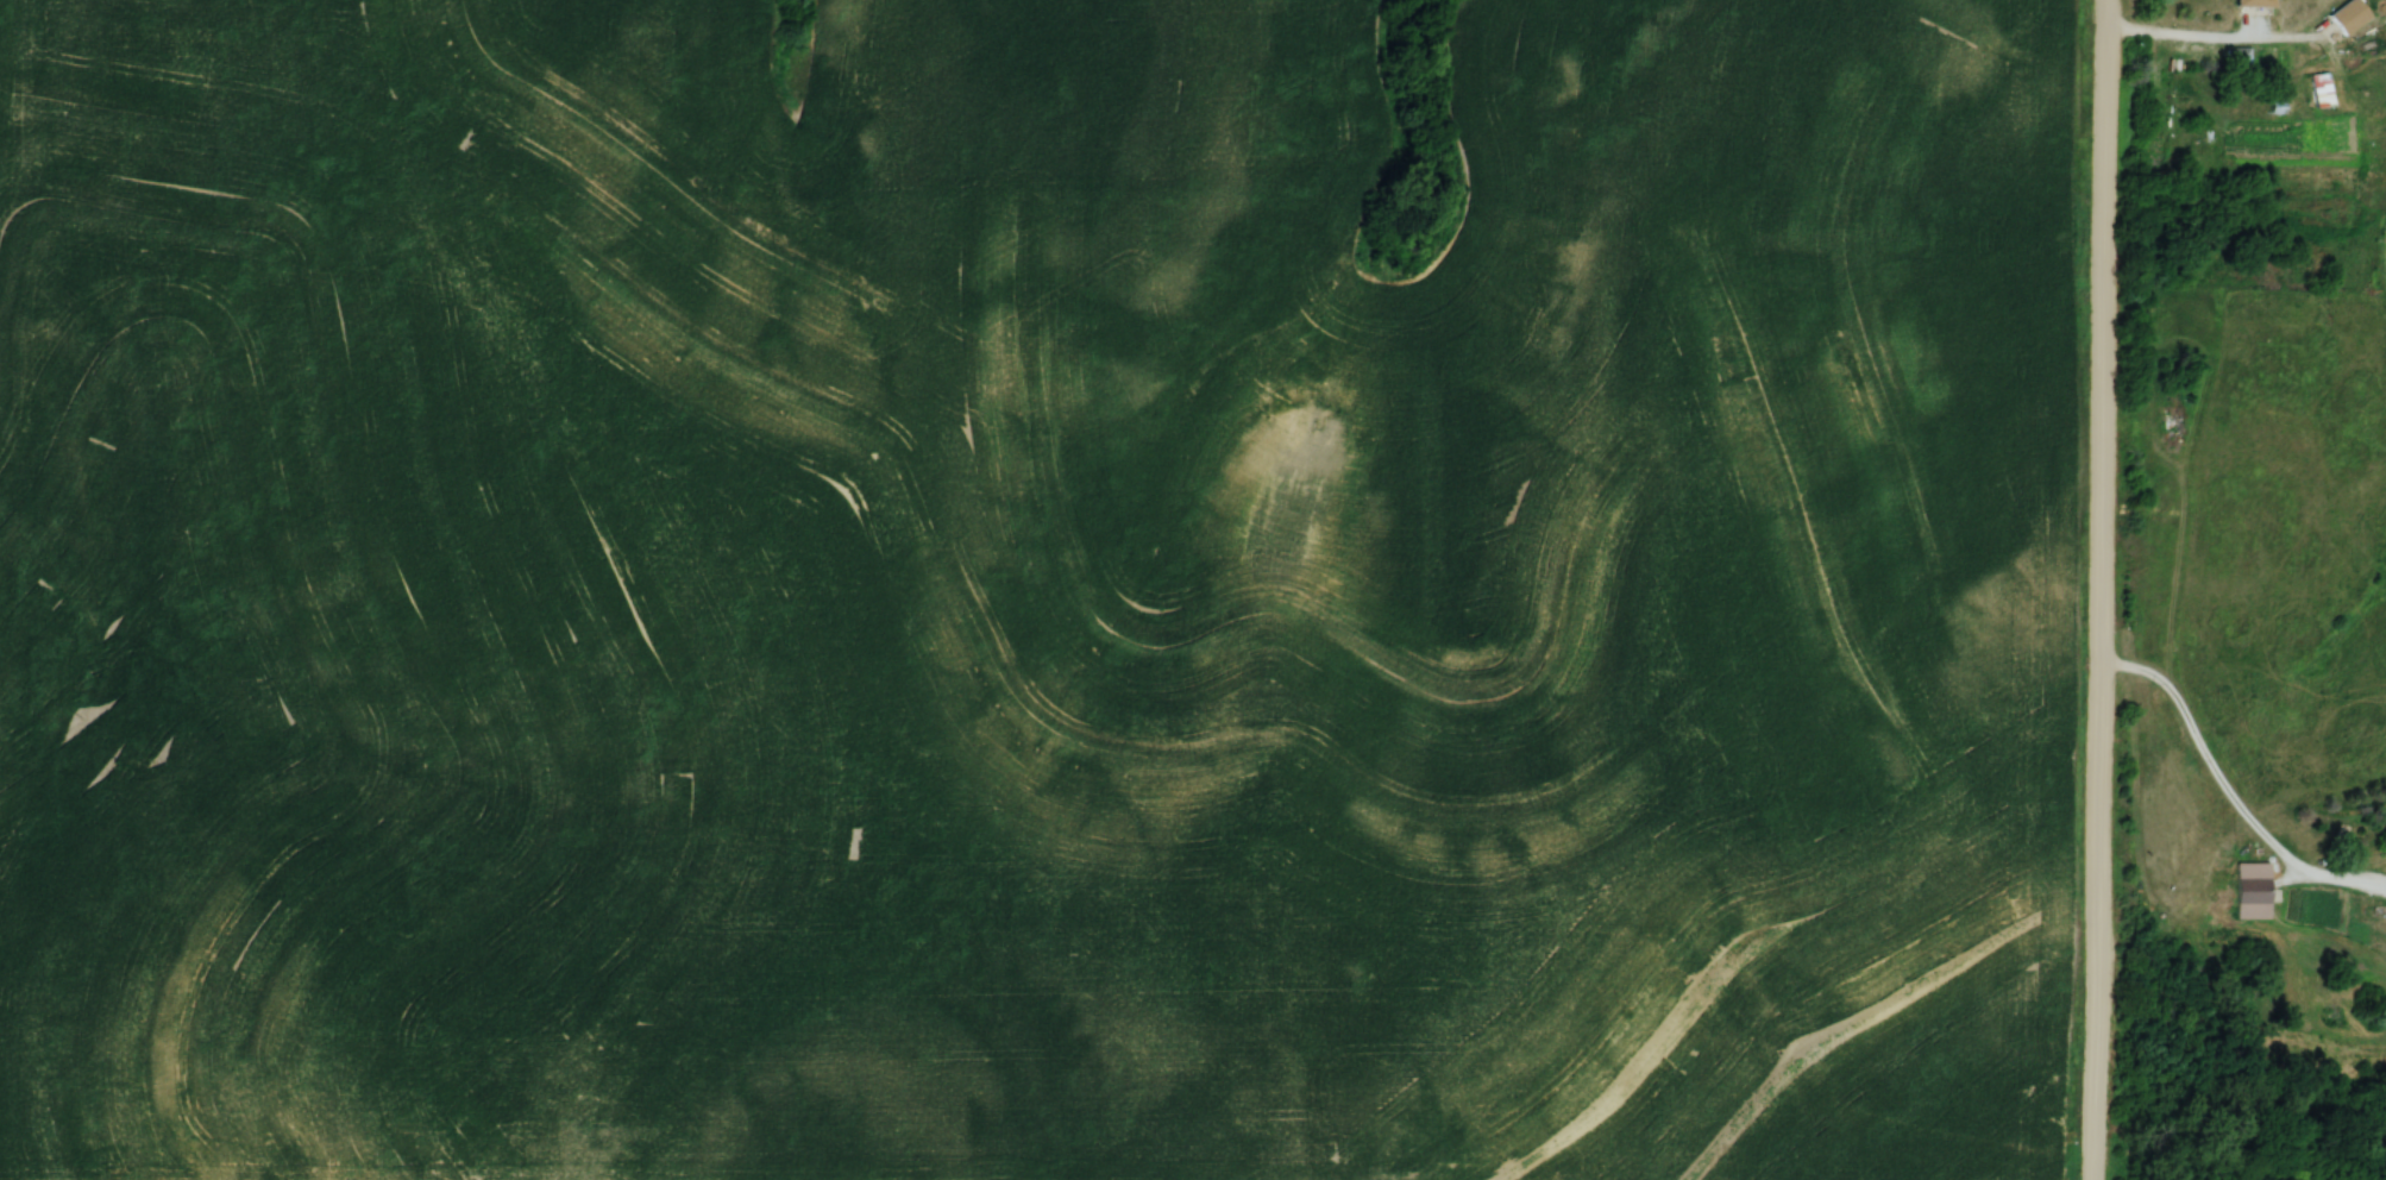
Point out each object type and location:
building: (2252, 4)
building: (2349, 17)
road: (2181, 27)
building: (2236, 57)
road: (2098, 589)
road: (2230, 780)
building: (2252, 891)

